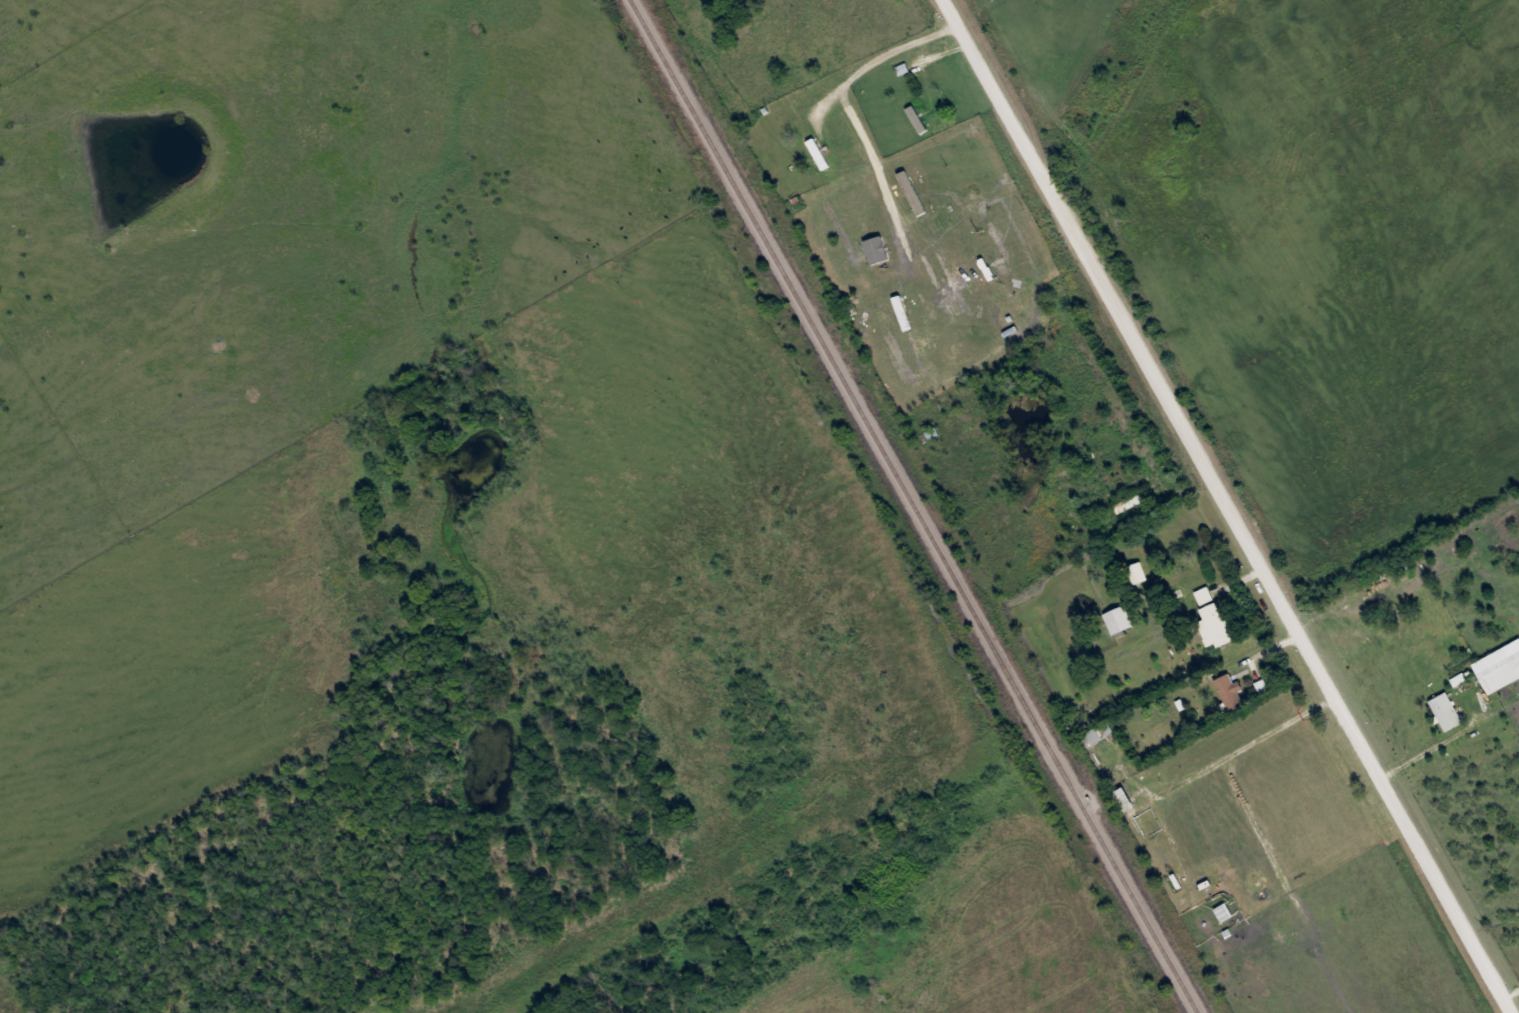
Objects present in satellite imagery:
road: (878, 57)
building: (927, 112)
building: (834, 147)
building: (816, 153)
road: (1147, 475)
road: (1171, 492)
building: (1129, 501)
railway: (914, 505)
road: (1225, 506)
building: (1135, 572)
building: (1210, 617)
building: (1117, 620)
road: (1257, 648)
building: (1489, 660)
building: (1227, 691)
building: (1444, 711)
building: (1093, 734)
road: (1438, 738)
road: (1510, 996)

